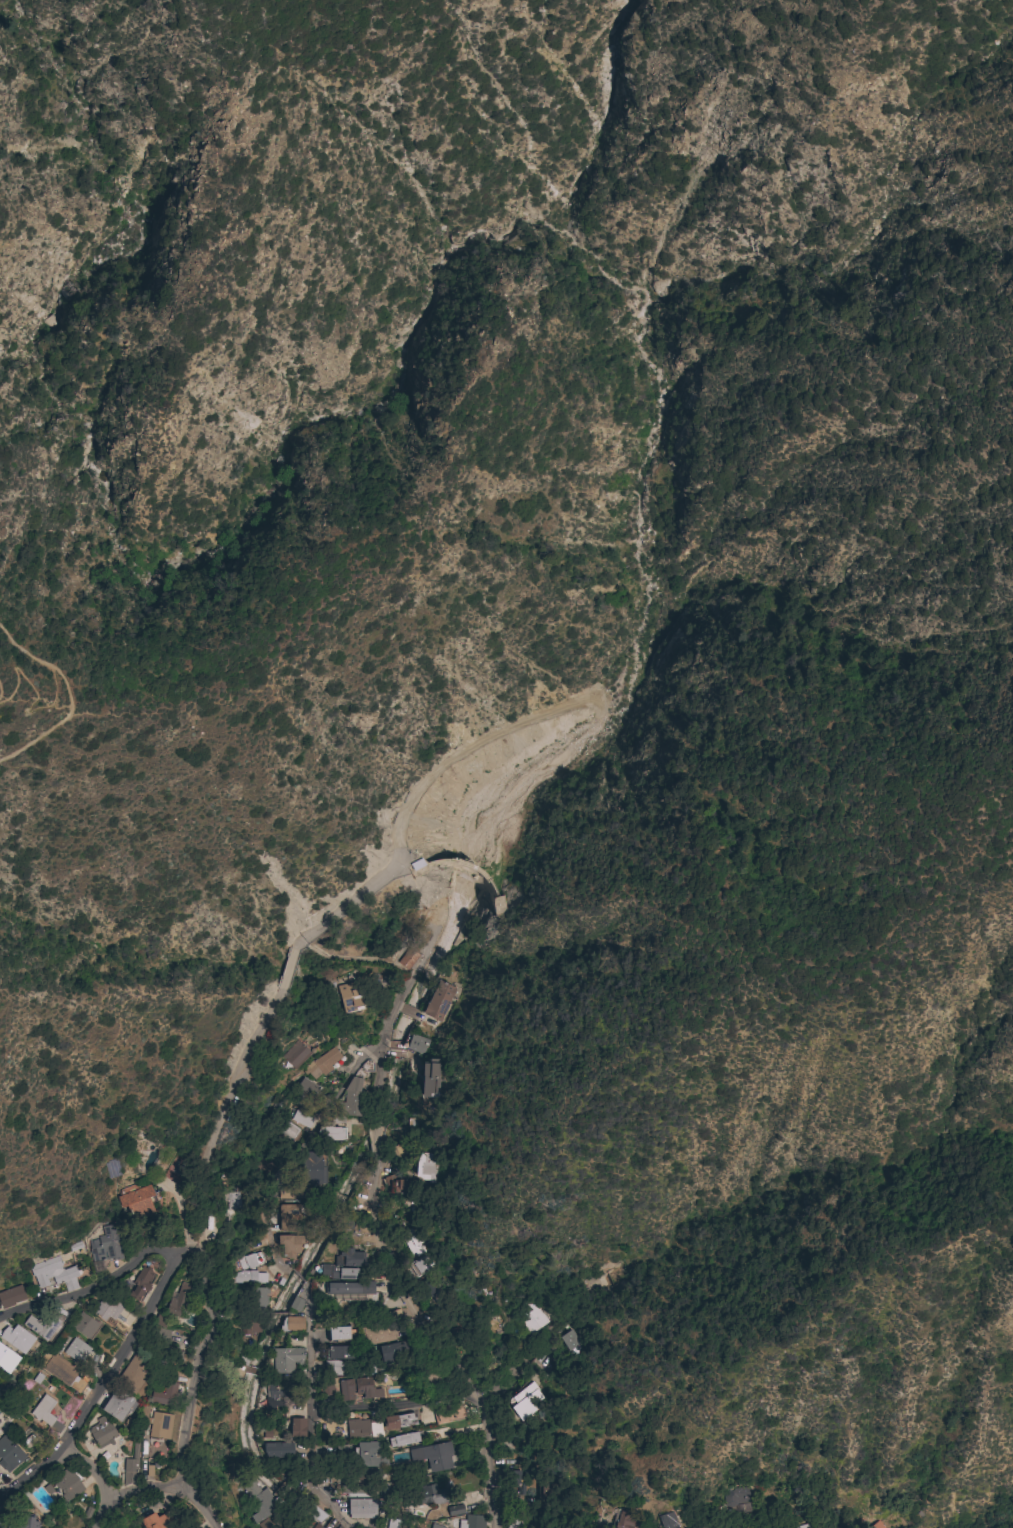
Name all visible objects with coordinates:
road: (37, 696)
road: (62, 697)
dam: (466, 867)
building: (408, 959)
building: (349, 997)
building: (438, 1000)
road: (254, 1035)
building: (415, 1043)
building: (296, 1055)
building: (322, 1064)
building: (430, 1078)
building: (306, 1087)
building: (352, 1098)
building: (300, 1118)
building: (288, 1129)
building: (331, 1130)
road: (296, 1153)
building: (426, 1167)
building: (311, 1170)
building: (394, 1187)
building: (405, 1187)
building: (295, 1193)
building: (137, 1203)
building: (229, 1204)
building: (288, 1216)
building: (412, 1242)
building: (289, 1245)
building: (105, 1246)
building: (250, 1261)
building: (345, 1264)
building: (417, 1266)
road: (386, 1267)
building: (54, 1277)
building: (249, 1277)
road: (300, 1277)
building: (141, 1284)
building: (350, 1288)
building: (430, 1289)
road: (88, 1291)
building: (11, 1296)
building: (360, 1298)
building: (258, 1299)
building: (178, 1300)
building: (296, 1304)
building: (106, 1309)
building: (530, 1316)
building: (161, 1321)
building: (291, 1324)
building: (46, 1325)
building: (86, 1326)
building: (250, 1326)
building: (339, 1333)
building: (376, 1334)
building: (17, 1339)
building: (570, 1341)
building: (76, 1350)
building: (341, 1352)
building: (390, 1352)
road: (197, 1355)
building: (178, 1356)
building: (242, 1358)
building: (7, 1360)
building: (286, 1360)
building: (336, 1368)
building: (63, 1373)
building: (134, 1374)
road: (98, 1386)
building: (323, 1387)
building: (357, 1389)
building: (164, 1395)
building: (277, 1395)
building: (523, 1400)
road: (394, 1404)
building: (118, 1405)
building: (143, 1411)
building: (45, 1413)
road: (310, 1413)
building: (447, 1413)
building: (400, 1421)
building: (160, 1426)
building: (297, 1428)
building: (364, 1428)
building: (102, 1432)
building: (405, 1439)
building: (278, 1449)
building: (341, 1449)
building: (9, 1454)
building: (369, 1455)
building: (433, 1456)
building: (131, 1466)
road: (90, 1468)
building: (368, 1474)
building: (67, 1483)
road: (140, 1487)
building: (357, 1491)
building: (548, 1492)
building: (383, 1494)
building: (432, 1494)
building: (258, 1499)
building: (738, 1500)
road: (521, 1502)
road: (197, 1506)
building: (363, 1508)
building: (455, 1510)
road: (100, 1514)
building: (318, 1516)
building: (623, 1520)
building: (669, 1520)
building: (158, 1521)
building: (514, 1521)
building: (472, 1522)
building: (28, 1523)
building: (390, 1523)
building: (265, 1524)
building: (876, 1525)
building: (315, 1526)
building: (437, 1526)
building: (770, 1526)
building: (776, 1526)
building: (803, 1526)
building: (285, 1527)
building: (291, 1527)

